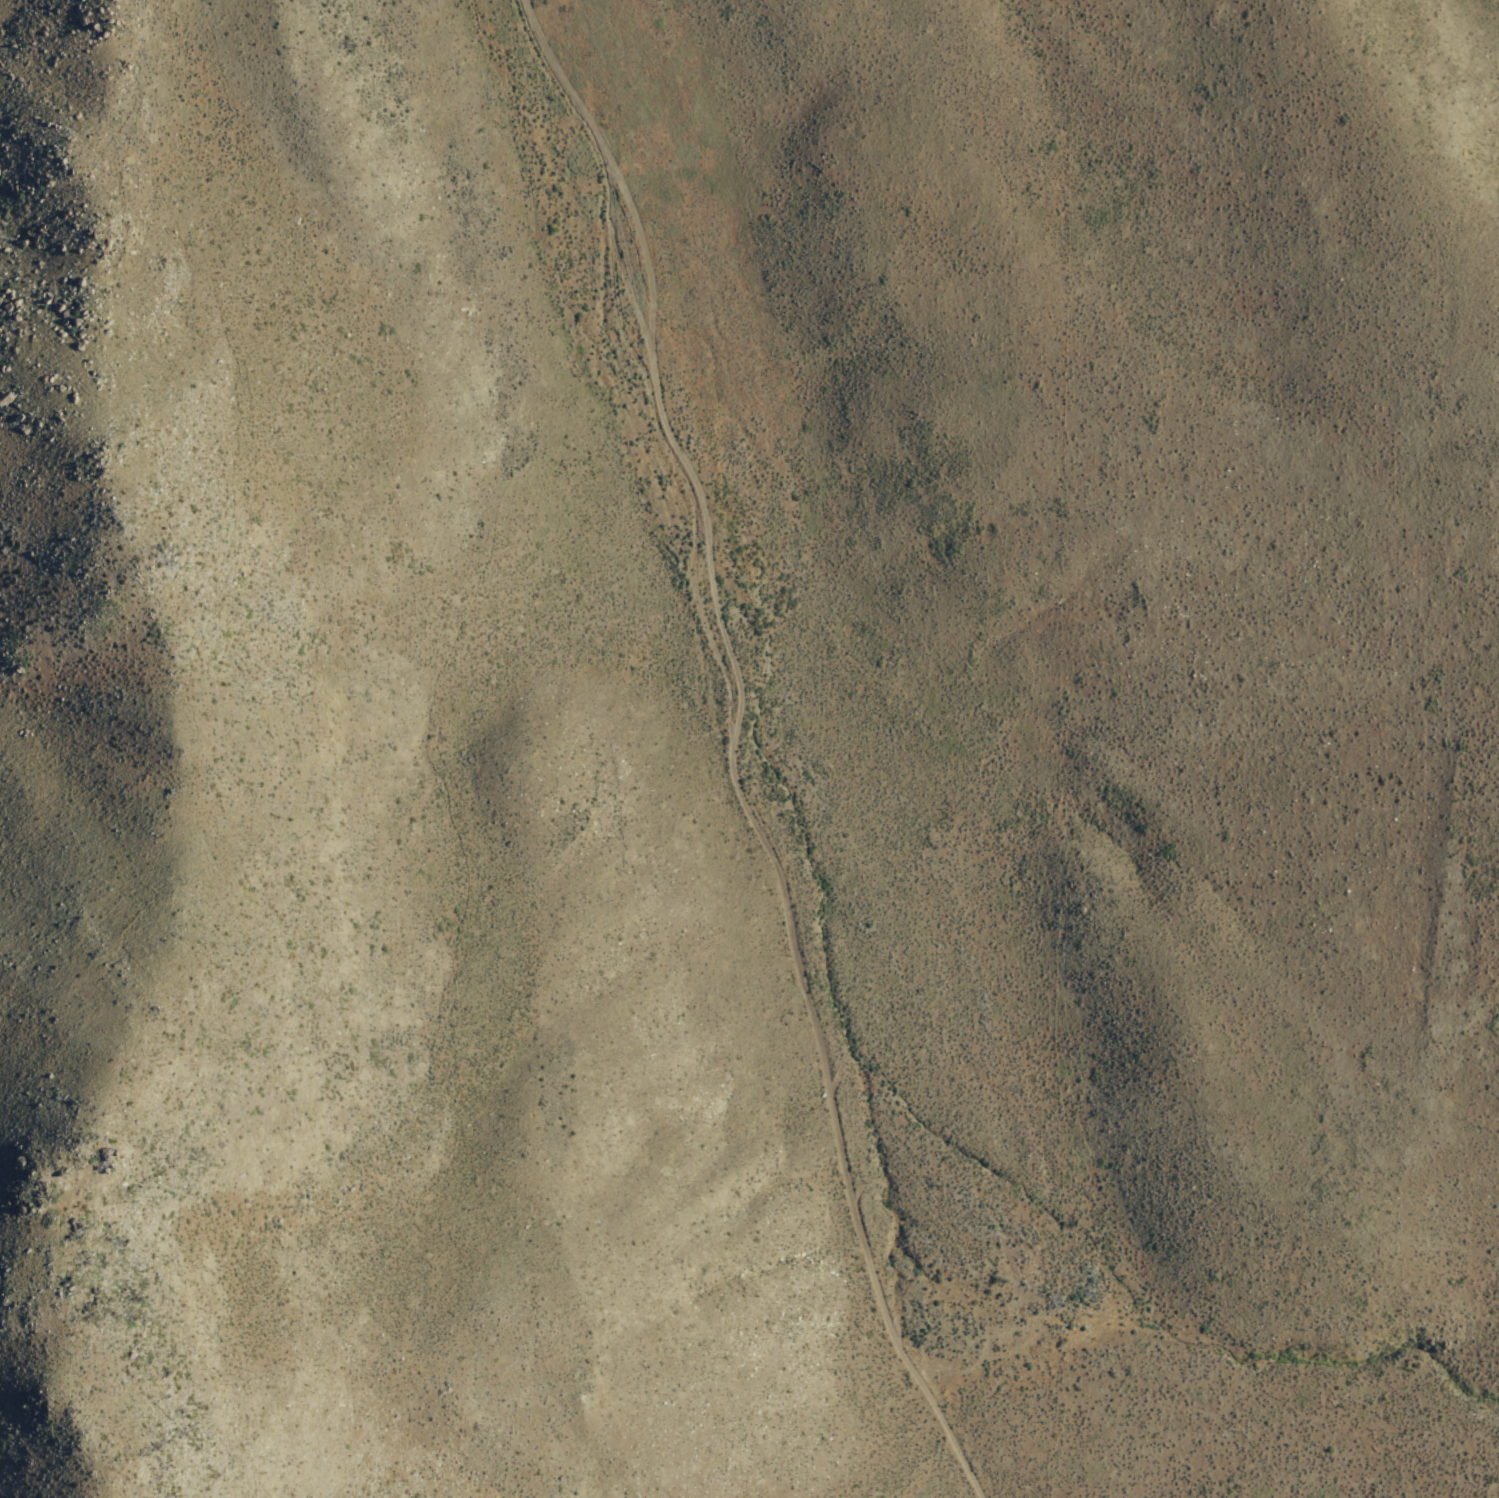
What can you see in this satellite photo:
road: (744, 750)
crop: (711, 763)

